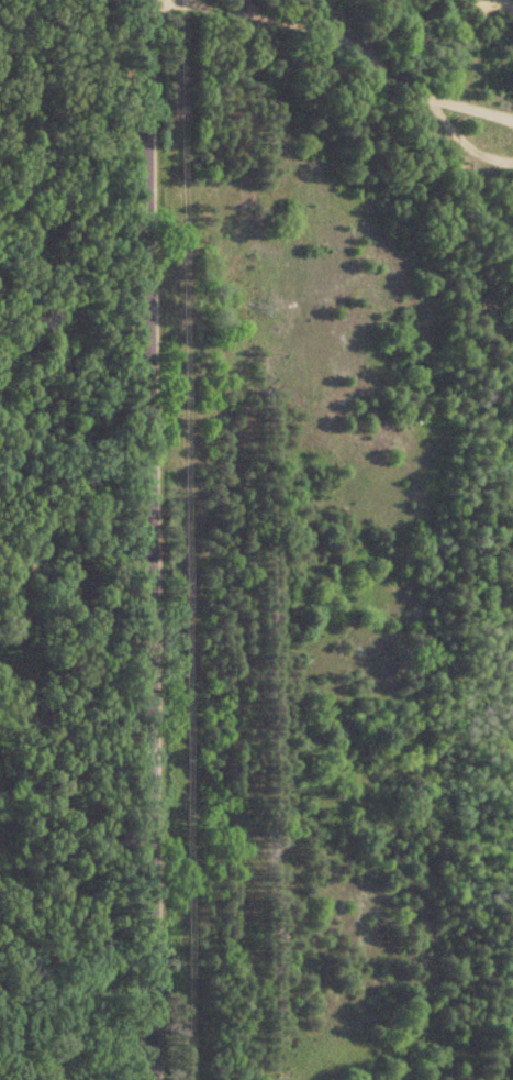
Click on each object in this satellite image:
road: (74, 478)
road: (147, 539)

